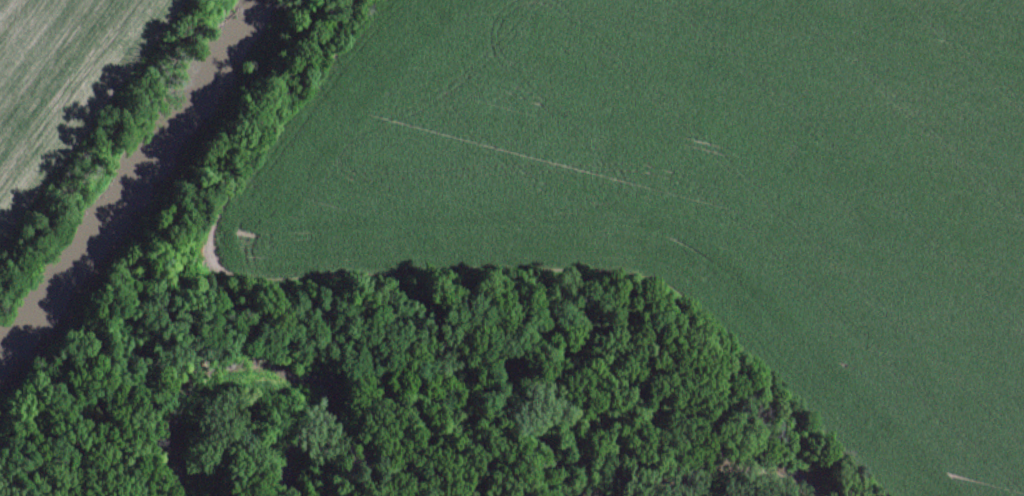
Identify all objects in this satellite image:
river: (145, 168)

